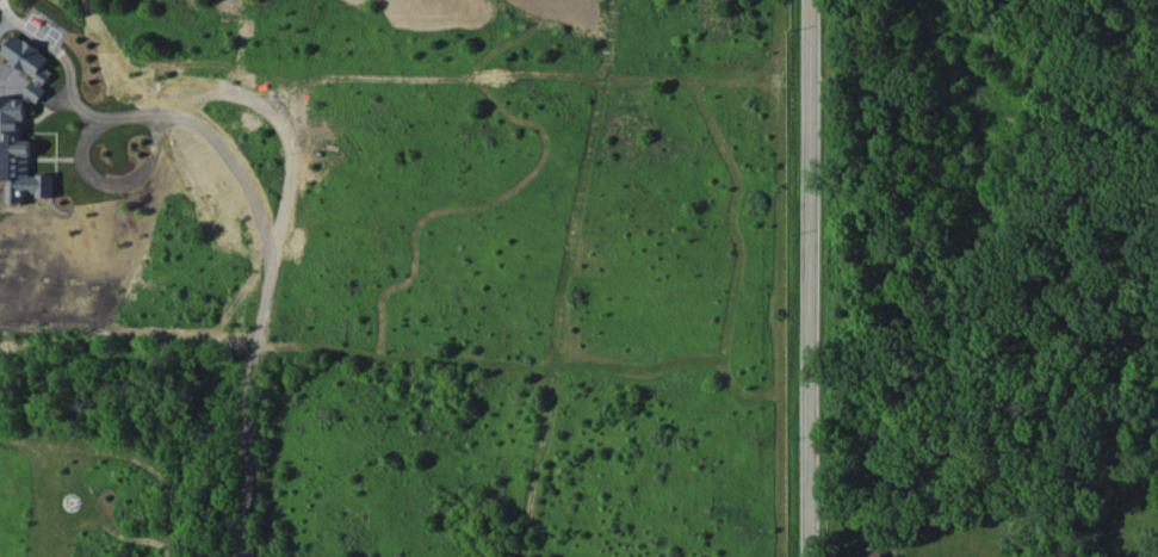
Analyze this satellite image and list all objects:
building: (13, 110)
road: (279, 120)
road: (248, 202)
road: (810, 278)
building: (869, 551)

